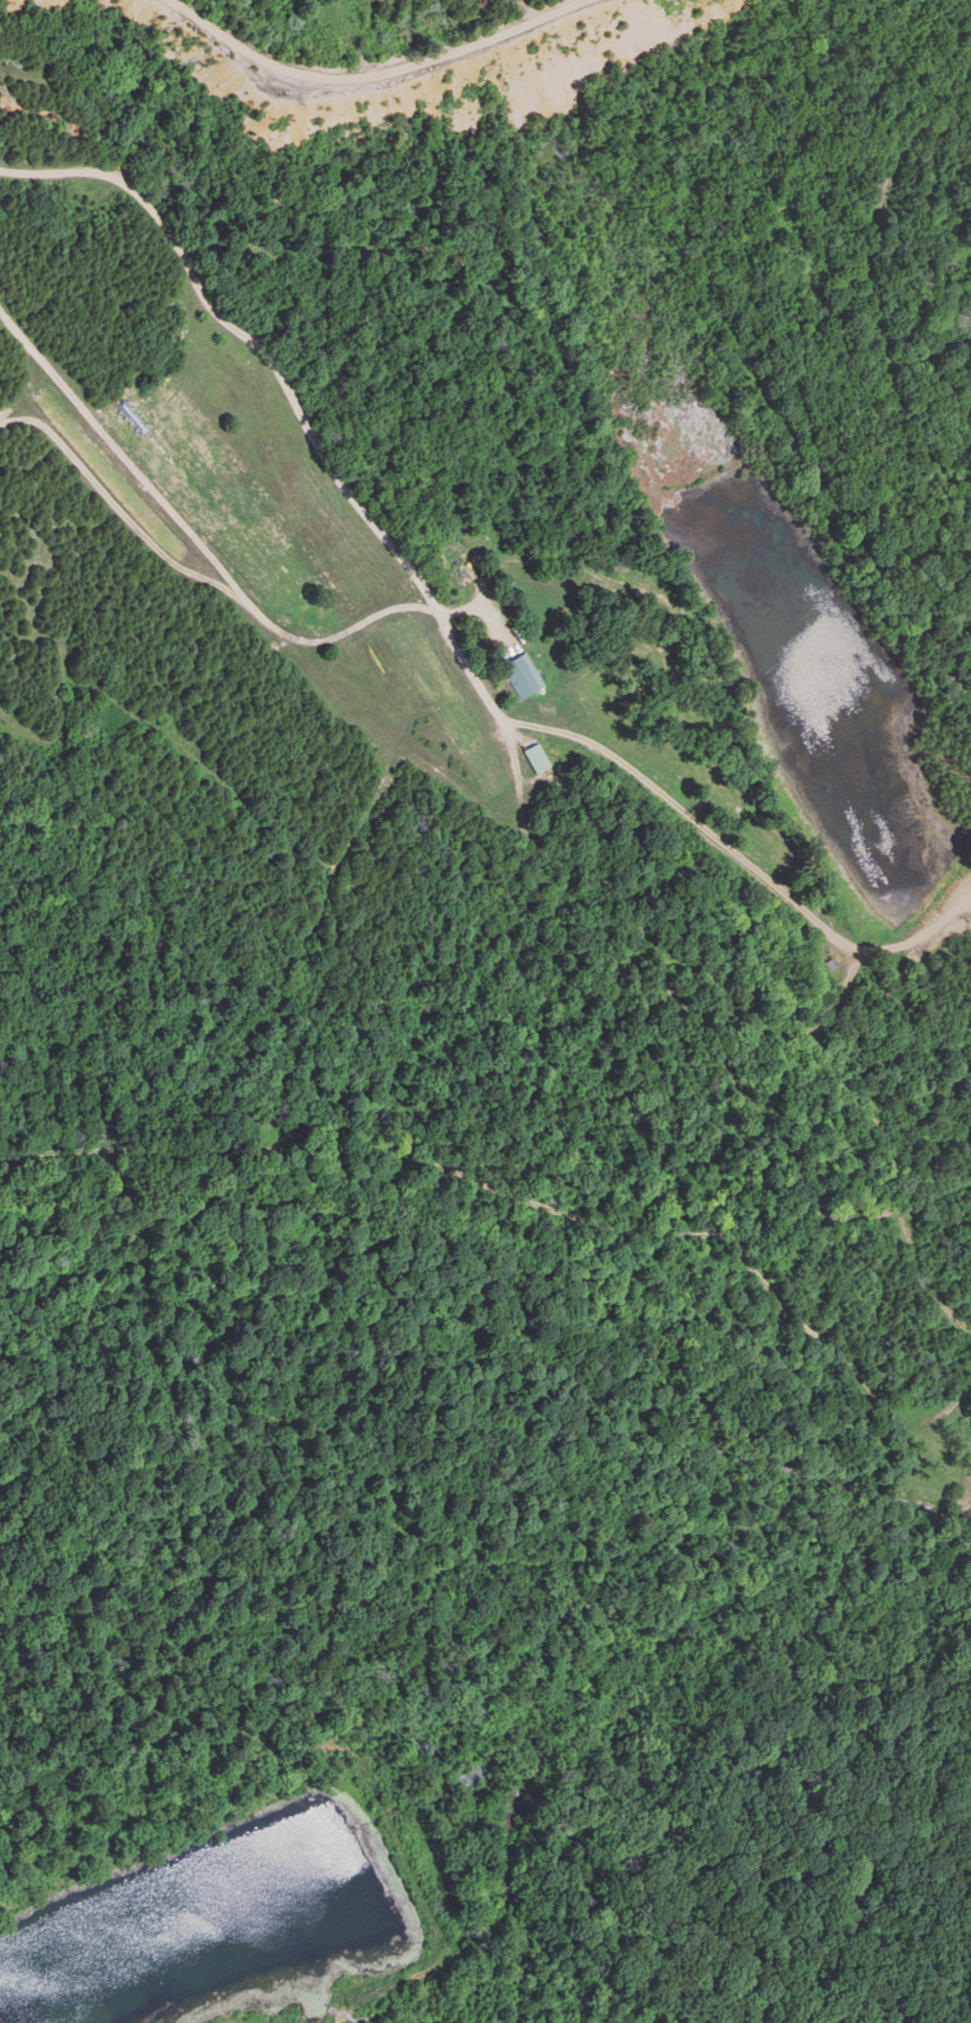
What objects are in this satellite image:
road: (909, 314)
building: (518, 676)
building: (535, 759)
road: (488, 1150)

